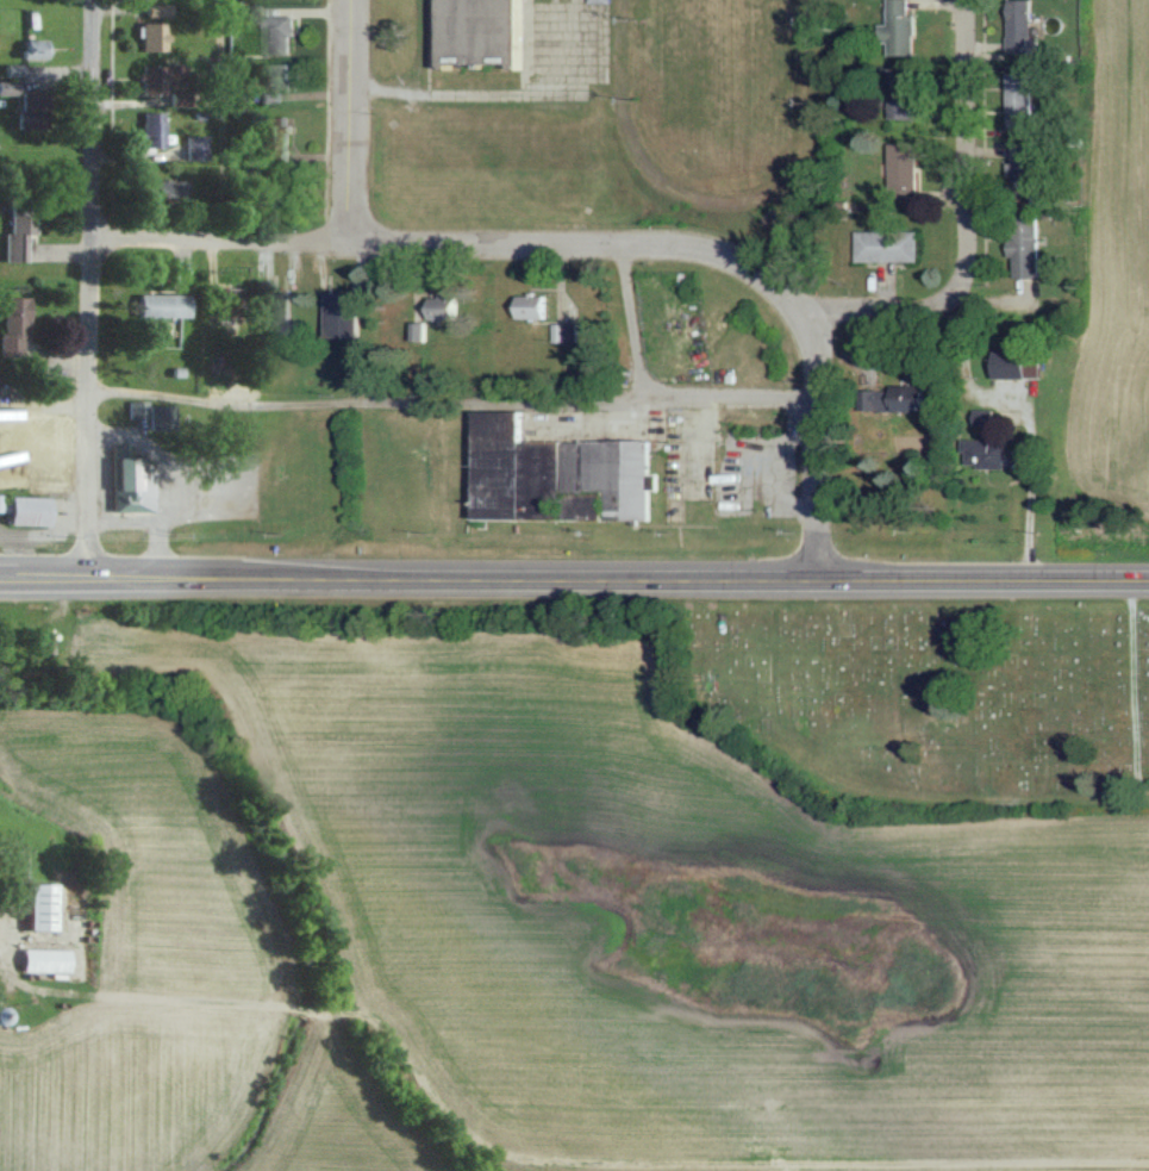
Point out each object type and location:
building: (601, 0)
building: (150, 11)
building: (906, 27)
building: (1030, 27)
building: (275, 29)
building: (482, 31)
building: (146, 36)
road: (424, 45)
building: (24, 48)
building: (282, 75)
building: (154, 77)
road: (500, 93)
building: (907, 94)
building: (1028, 99)
track: (831, 101)
building: (23, 107)
road: (212, 119)
road: (354, 119)
building: (145, 129)
building: (281, 138)
building: (189, 148)
building: (1031, 168)
building: (910, 172)
building: (156, 189)
building: (11, 226)
road: (975, 226)
road: (455, 239)
building: (1032, 244)
building: (892, 245)
road: (82, 287)
building: (152, 303)
building: (536, 304)
building: (448, 306)
building: (221, 311)
building: (277, 312)
building: (346, 313)
building: (8, 324)
road: (643, 325)
building: (574, 330)
building: (1018, 362)
building: (901, 397)
road: (451, 412)
building: (151, 413)
road: (823, 441)
building: (995, 443)
building: (561, 473)
building: (125, 484)
road: (1043, 503)
building: (20, 509)
road: (574, 577)
park: (935, 698)
road: (1063, 805)
building: (30, 905)
building: (35, 959)

